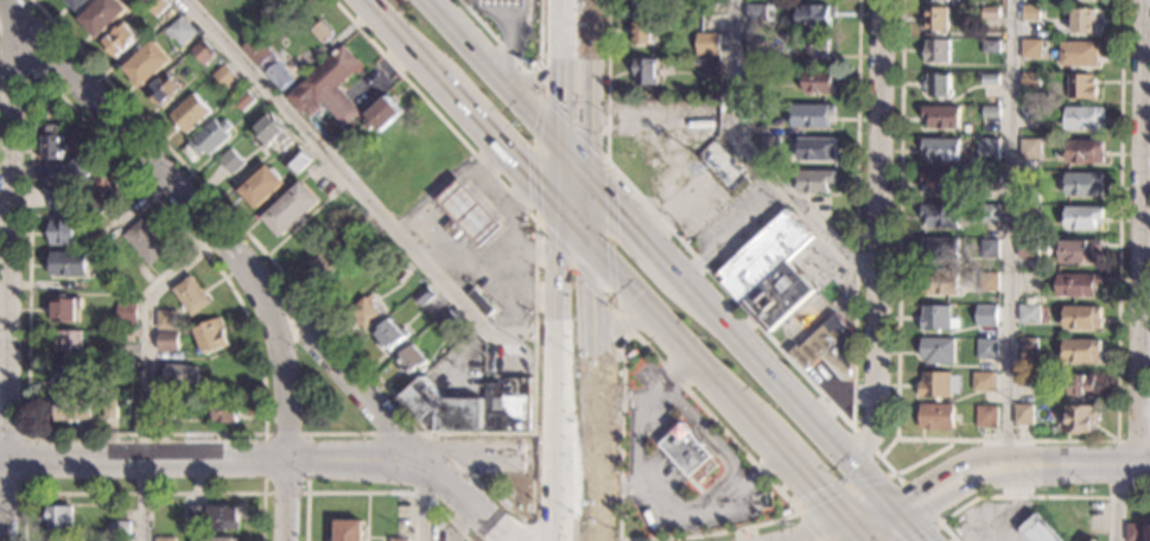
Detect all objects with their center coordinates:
building: (936, 0)
building: (506, 2)
building: (76, 4)
building: (154, 6)
building: (1031, 9)
building: (757, 11)
building: (992, 11)
building: (817, 14)
building: (101, 15)
building: (938, 18)
building: (1085, 19)
building: (644, 30)
building: (178, 31)
building: (320, 33)
road: (402, 40)
building: (119, 42)
building: (707, 42)
building: (755, 44)
building: (991, 45)
building: (819, 46)
building: (938, 49)
building: (1031, 49)
building: (202, 52)
building: (256, 52)
building: (1079, 52)
road: (17, 53)
building: (146, 64)
road: (519, 64)
building: (712, 64)
building: (646, 70)
road: (495, 71)
road: (560, 71)
building: (756, 76)
building: (223, 77)
building: (277, 77)
road: (542, 77)
building: (992, 77)
building: (1031, 78)
building: (820, 81)
road: (538, 83)
building: (938, 83)
building: (1082, 85)
building: (326, 87)
road: (587, 88)
building: (161, 89)
road: (541, 97)
building: (244, 101)
building: (746, 112)
building: (992, 112)
building: (1030, 113)
building: (188, 114)
building: (813, 114)
building: (942, 114)
building: (380, 115)
building: (40, 117)
building: (1085, 117)
building: (52, 122)
building: (269, 131)
building: (209, 138)
road: (129, 144)
building: (767, 144)
traffic signals: (560, 145)
road: (500, 147)
building: (941, 147)
building: (990, 147)
road: (30, 148)
building: (51, 148)
building: (817, 148)
building: (1030, 148)
building: (1085, 151)
road: (758, 157)
building: (293, 161)
road: (573, 161)
building: (777, 161)
building: (230, 163)
building: (722, 164)
building: (80, 170)
building: (51, 173)
building: (992, 176)
traffic signals: (587, 178)
building: (811, 178)
road: (560, 179)
building: (941, 182)
building: (1084, 183)
building: (260, 186)
road: (493, 189)
road: (357, 192)
building: (101, 193)
building: (1030, 195)
building: (58, 199)
building: (290, 210)
building: (974, 210)
traffic signals: (560, 214)
road: (589, 214)
building: (942, 214)
building: (989, 214)
building: (468, 215)
building: (1082, 216)
road: (634, 227)
road: (510, 229)
building: (63, 231)
road: (576, 231)
road: (1145, 231)
road: (877, 234)
road: (1010, 237)
building: (145, 242)
building: (989, 247)
building: (1029, 247)
building: (941, 248)
building: (1080, 249)
traffic signals: (591, 250)
building: (322, 262)
building: (69, 265)
road: (475, 267)
road: (509, 269)
building: (769, 272)
building: (399, 274)
building: (940, 281)
building: (989, 281)
road: (12, 282)
building: (1076, 284)
road: (534, 293)
building: (190, 297)
building: (422, 297)
building: (479, 301)
building: (64, 311)
building: (125, 312)
building: (1028, 312)
building: (363, 314)
building: (986, 314)
building: (936, 317)
building: (1081, 317)
building: (166, 319)
building: (445, 320)
road: (621, 323)
road: (595, 331)
building: (389, 335)
building: (123, 336)
building: (209, 338)
road: (606, 339)
road: (674, 340)
building: (66, 342)
building: (167, 342)
building: (1029, 343)
building: (827, 346)
building: (938, 349)
building: (987, 349)
building: (1081, 350)
building: (409, 359)
road: (343, 368)
building: (122, 371)
road: (144, 373)
building: (174, 375)
building: (66, 376)
road: (558, 377)
building: (1027, 380)
building: (983, 381)
building: (939, 383)
building: (1082, 384)
road: (783, 389)
road: (818, 389)
road: (652, 394)
road: (621, 402)
building: (474, 408)
building: (108, 409)
building: (165, 409)
building: (71, 410)
road: (286, 410)
building: (224, 412)
building: (1023, 413)
building: (935, 415)
building: (986, 415)
building: (1080, 418)
road: (341, 433)
road: (441, 433)
road: (427, 434)
road: (865, 440)
road: (1006, 440)
road: (1132, 441)
road: (714, 445)
road: (490, 452)
road: (532, 453)
road: (212, 454)
building: (687, 454)
road: (971, 458)
road: (25, 462)
road: (1107, 464)
road: (904, 469)
road: (635, 473)
road: (601, 476)
road: (801, 476)
road: (873, 479)
road: (980, 479)
road: (618, 482)
road: (743, 486)
road: (262, 491)
road: (144, 492)
road: (373, 492)
road: (1029, 497)
road: (421, 498)
road: (469, 499)
traffic signals: (887, 502)
road: (1116, 502)
building: (527, 508)
building: (786, 511)
road: (865, 511)
road: (895, 511)
building: (198, 515)
road: (516, 515)
building: (224, 516)
building: (59, 517)
traffic signals: (845, 521)
traffic signals: (904, 521)
building: (120, 527)
building: (1040, 529)
building: (349, 530)
road: (817, 530)
road: (853, 530)
road: (883, 530)
road: (913, 530)
building: (1137, 532)
road: (565, 533)
building: (166, 539)
building: (62, 540)
building: (121, 540)
building: (216, 540)
building: (399, 540)
traffic signals: (863, 540)
building: (1093, 540)
building: (1095, 540)

